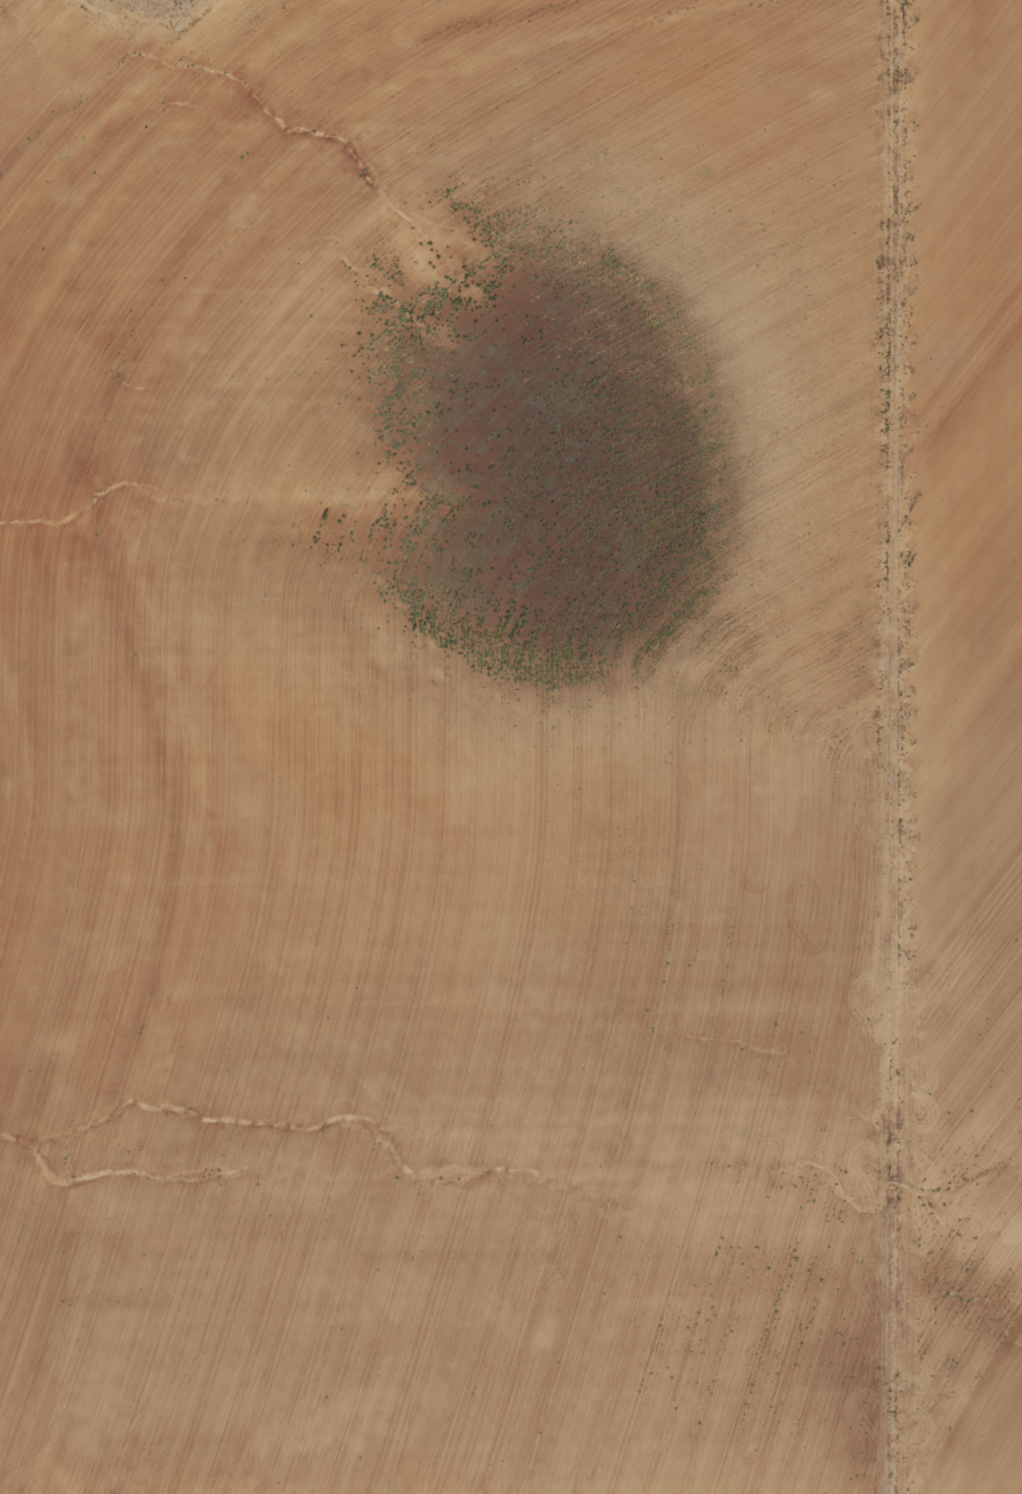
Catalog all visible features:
road: (866, 747)

